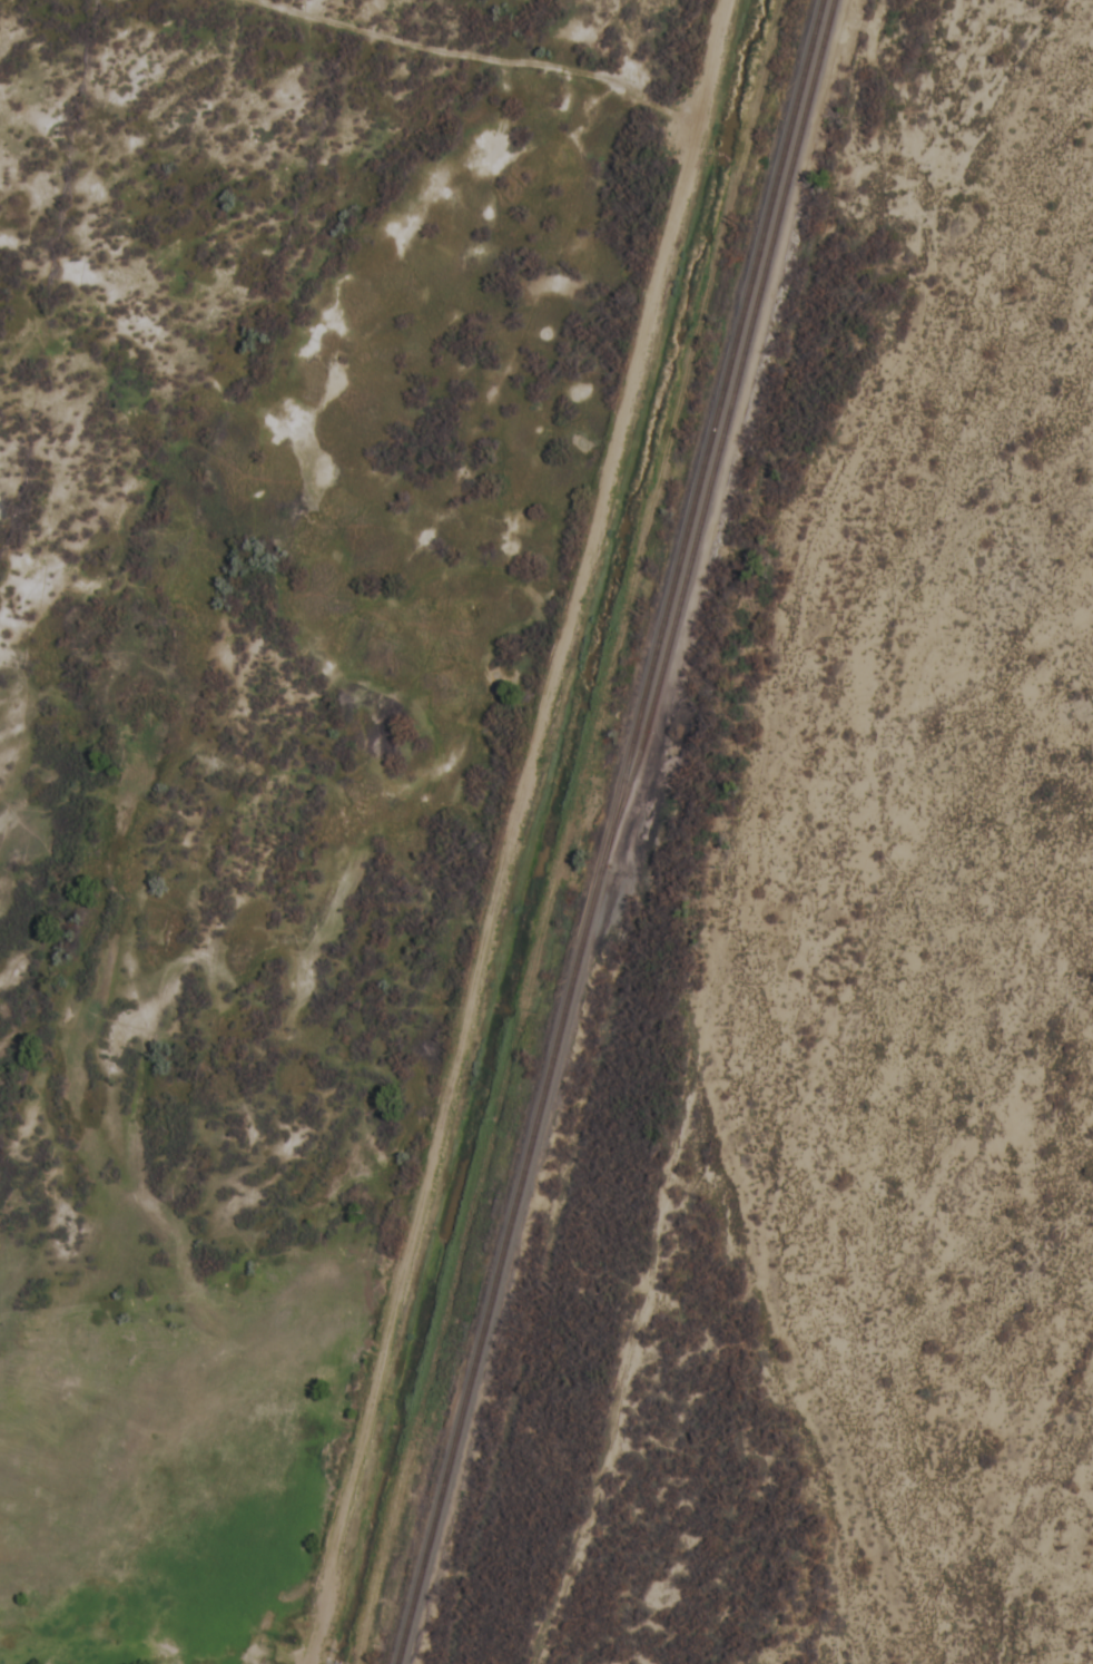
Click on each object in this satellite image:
road: (481, 57)
railway: (727, 430)
road: (797, 829)
road: (516, 831)
railway: (614, 831)
road: (686, 832)

